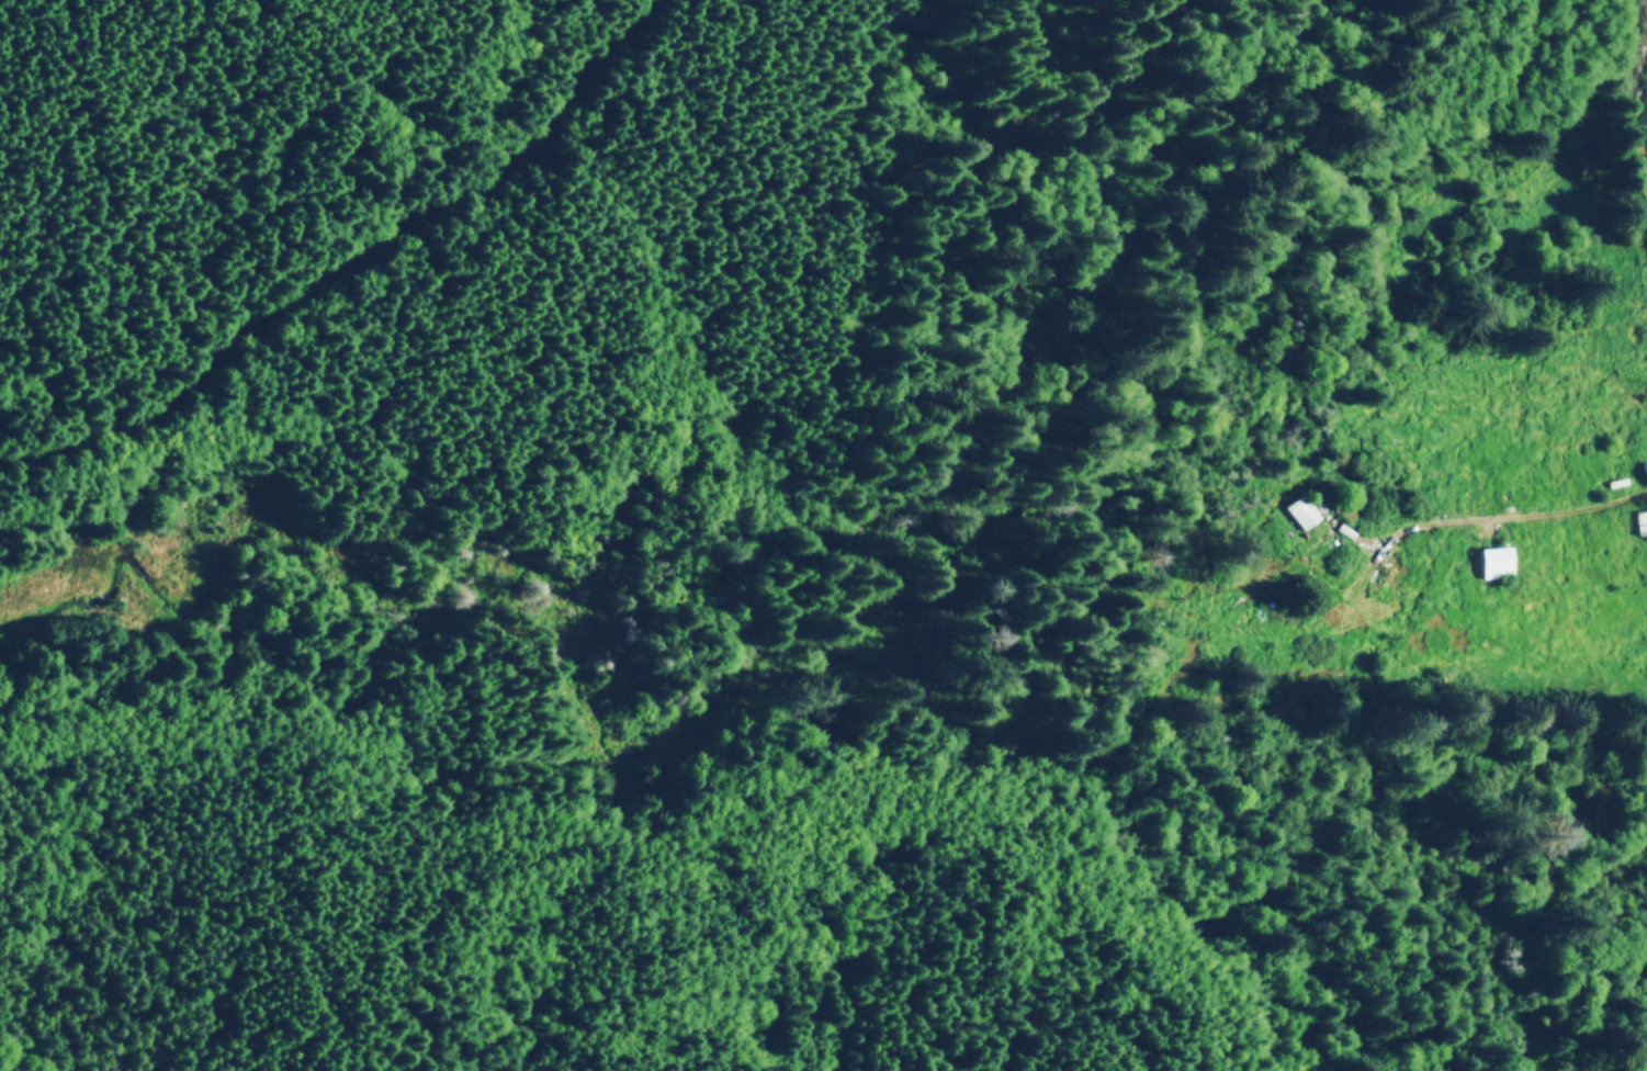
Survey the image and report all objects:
road: (382, 271)
road: (1510, 517)
building: (1492, 561)

